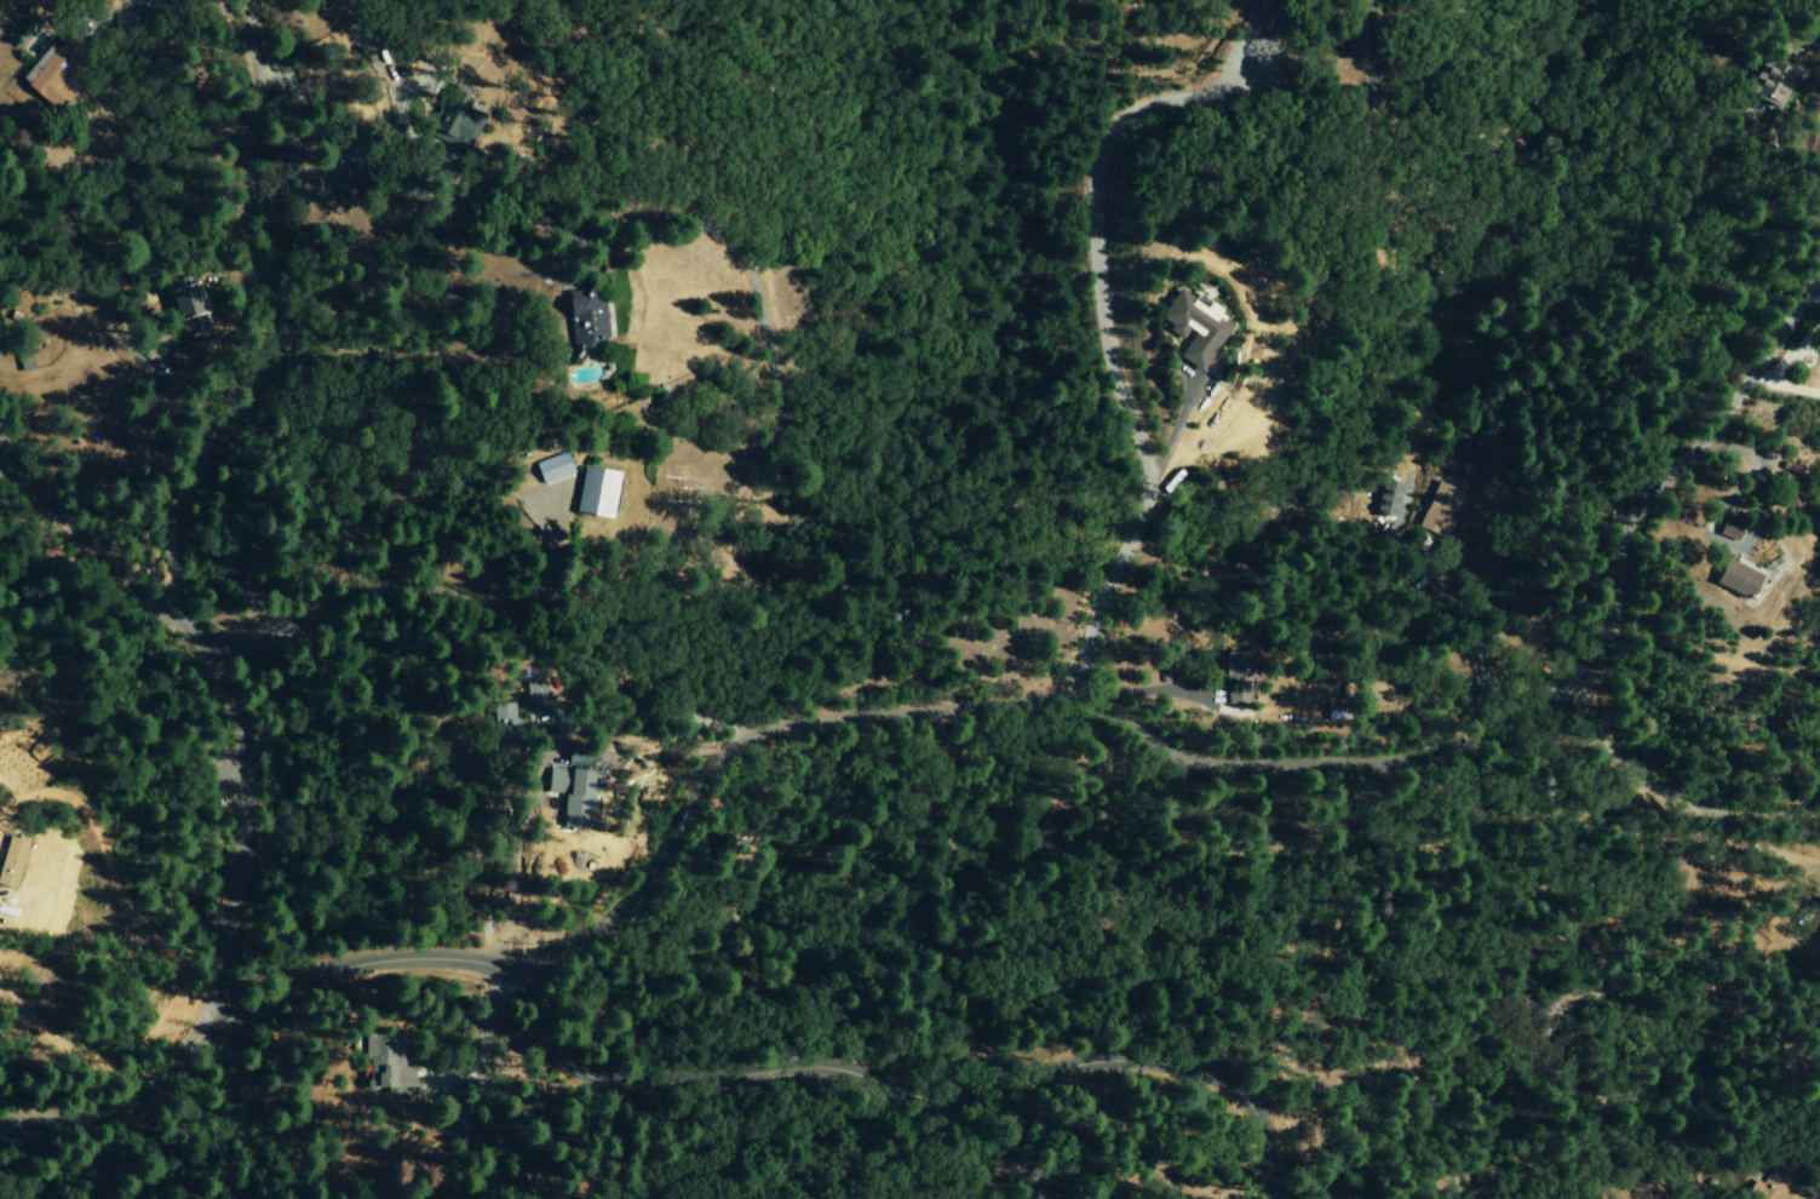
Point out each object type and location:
road: (127, 11)
road: (1253, 29)
road: (241, 41)
building: (53, 79)
building: (1770, 82)
building: (453, 119)
road: (270, 305)
building: (193, 306)
building: (587, 322)
road: (1549, 328)
building: (1192, 329)
road: (1106, 337)
building: (24, 363)
road: (1167, 448)
building: (550, 470)
building: (591, 494)
building: (1394, 506)
building: (1726, 534)
building: (1734, 584)
road: (389, 585)
building: (1233, 679)
road: (1148, 692)
building: (533, 693)
road: (216, 706)
building: (503, 718)
building: (580, 757)
road: (1227, 762)
building: (570, 797)
building: (11, 859)
building: (384, 1066)
road: (622, 1085)
road: (488, 1088)
building: (1774, 1183)

